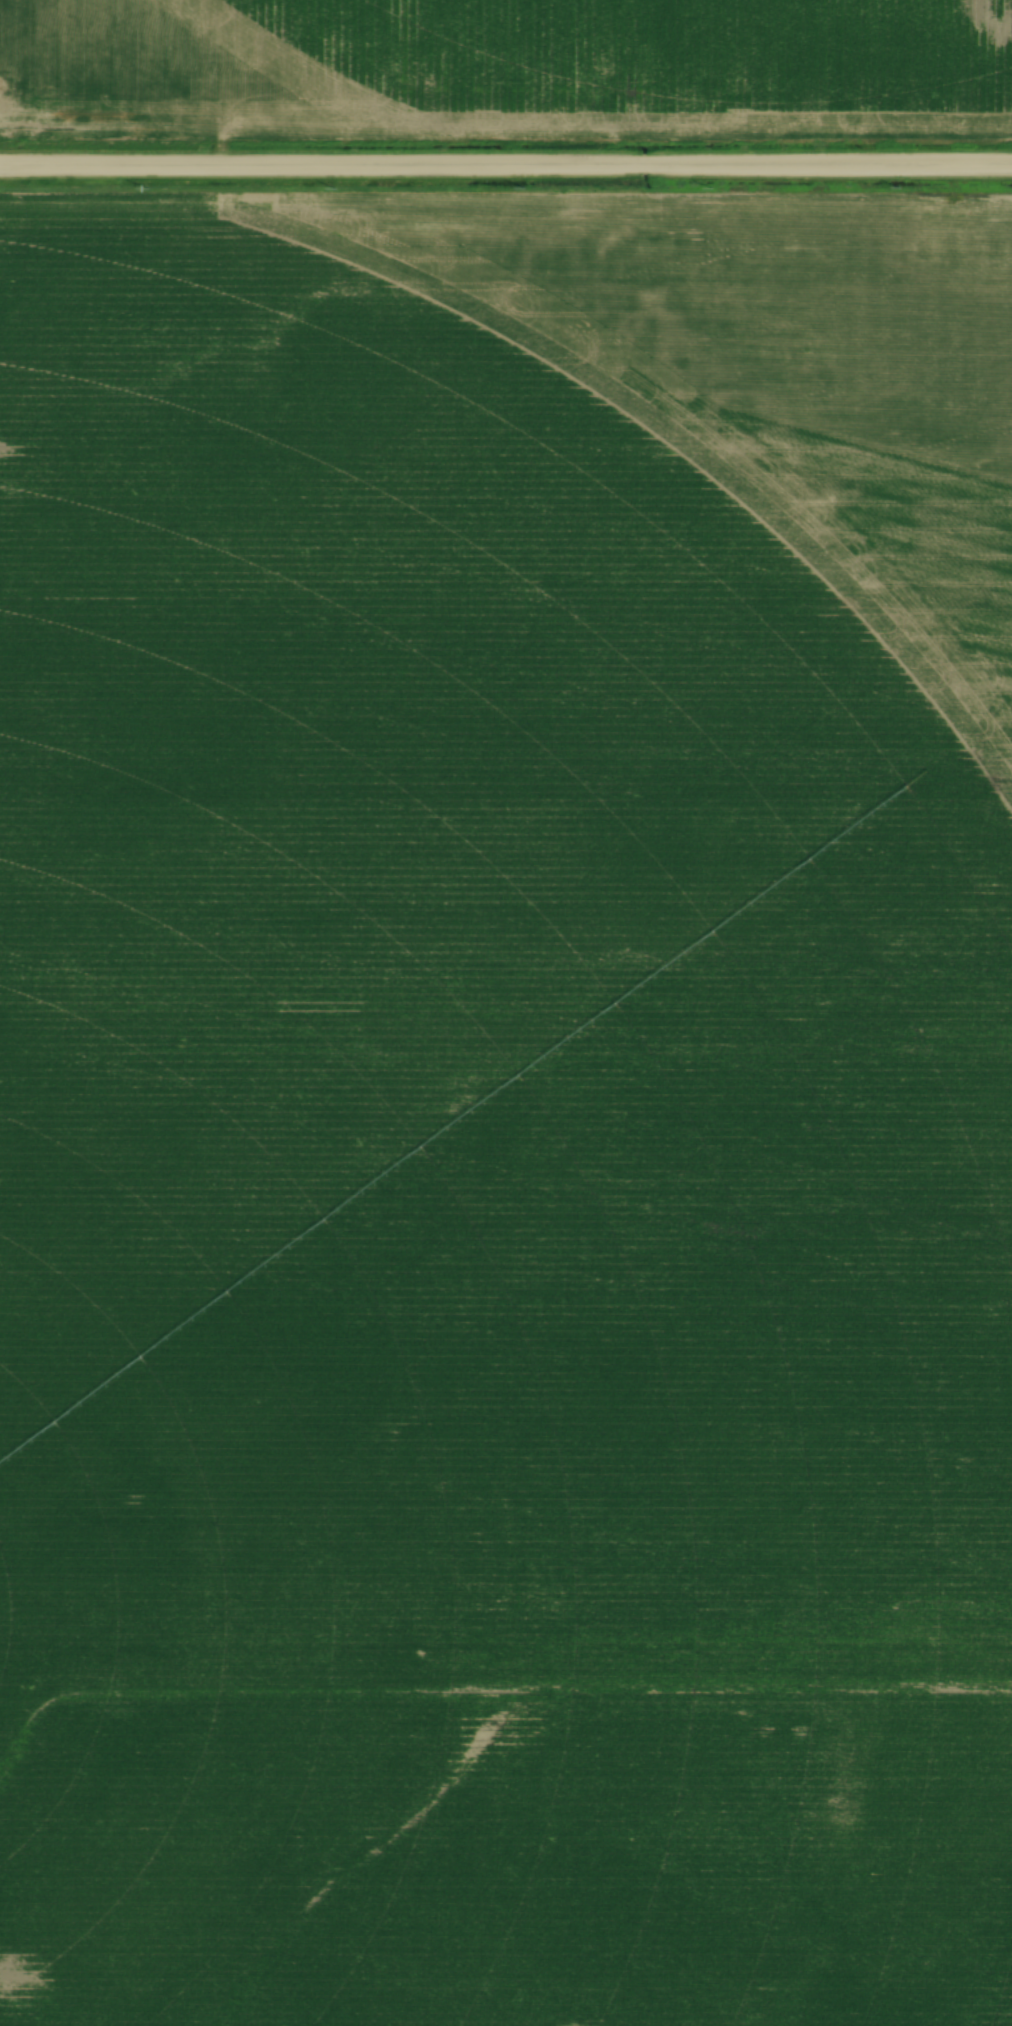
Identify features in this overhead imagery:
road: (505, 170)

